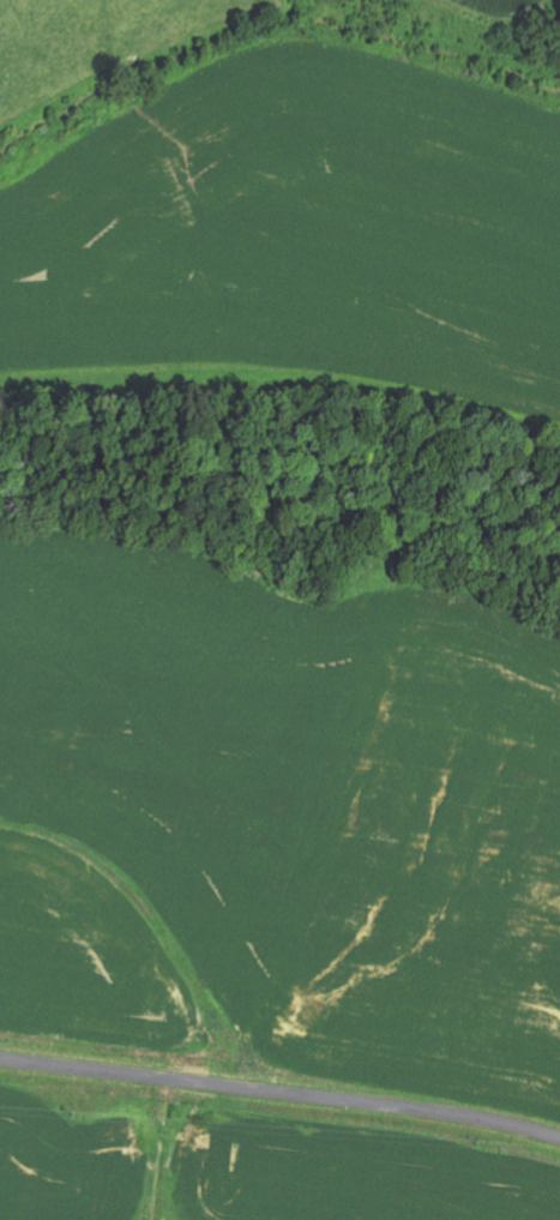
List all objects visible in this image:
road: (281, 1093)

